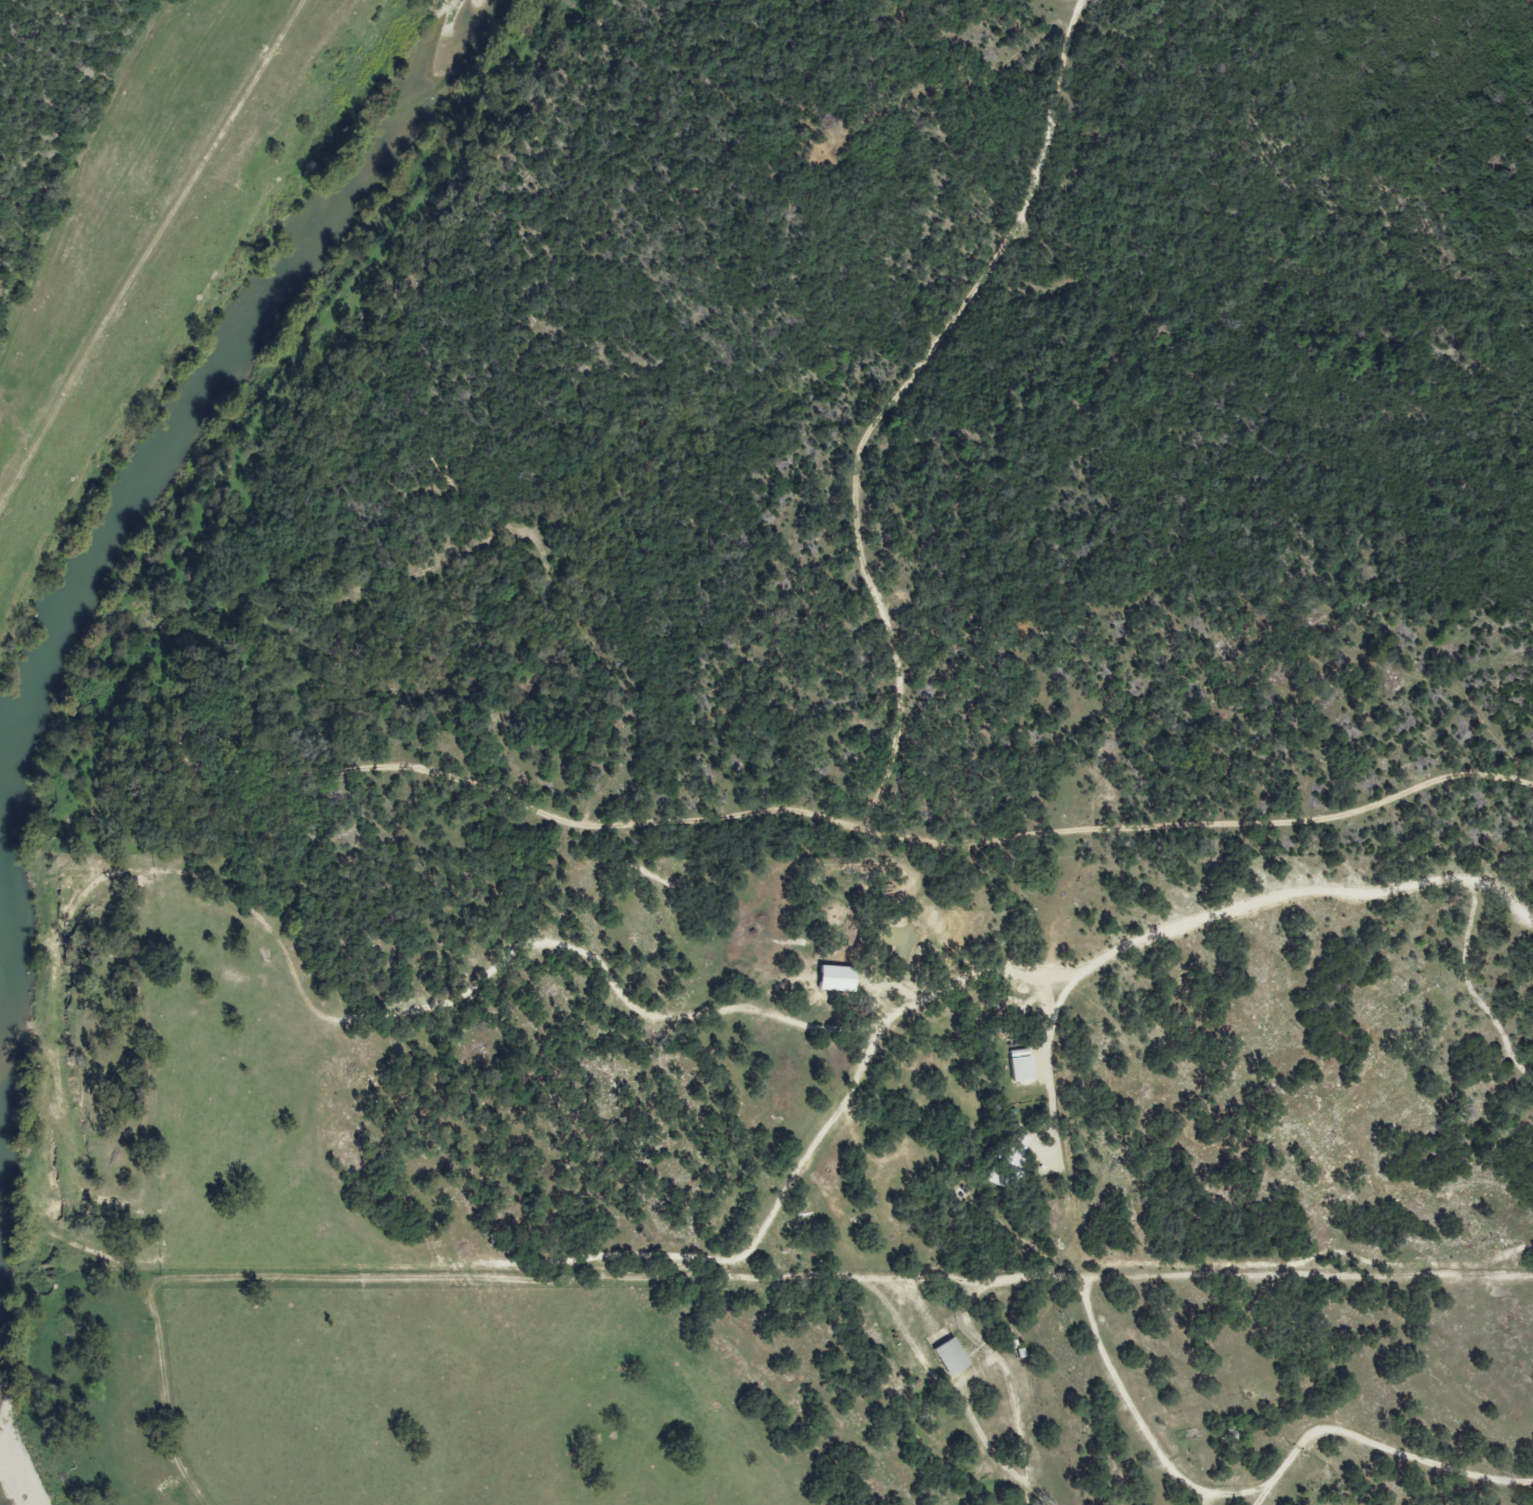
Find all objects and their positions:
river: (139, 470)
road: (945, 826)
road: (1185, 925)
building: (832, 978)
building: (1018, 1068)
building: (1013, 1152)
building: (947, 1357)

